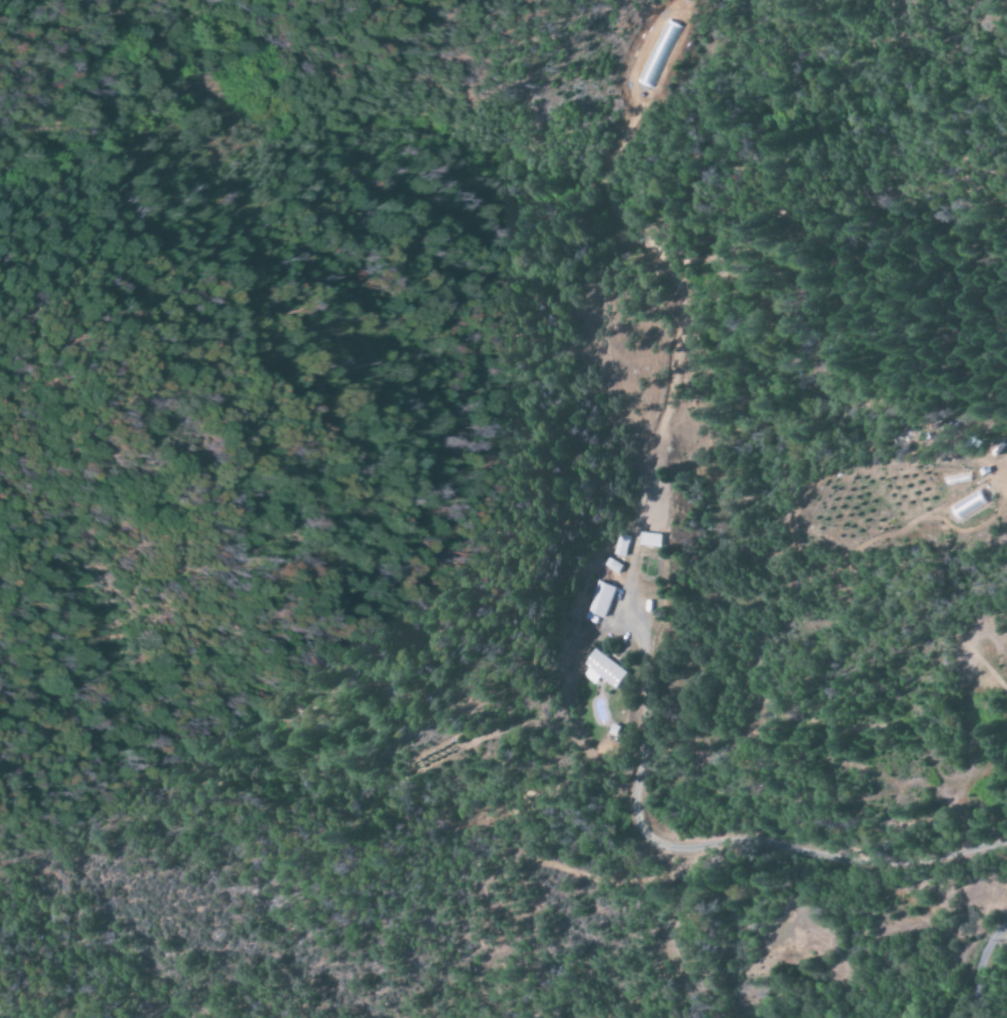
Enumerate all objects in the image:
building: (650, 540)
building: (599, 600)
building: (602, 670)
road: (989, 944)

